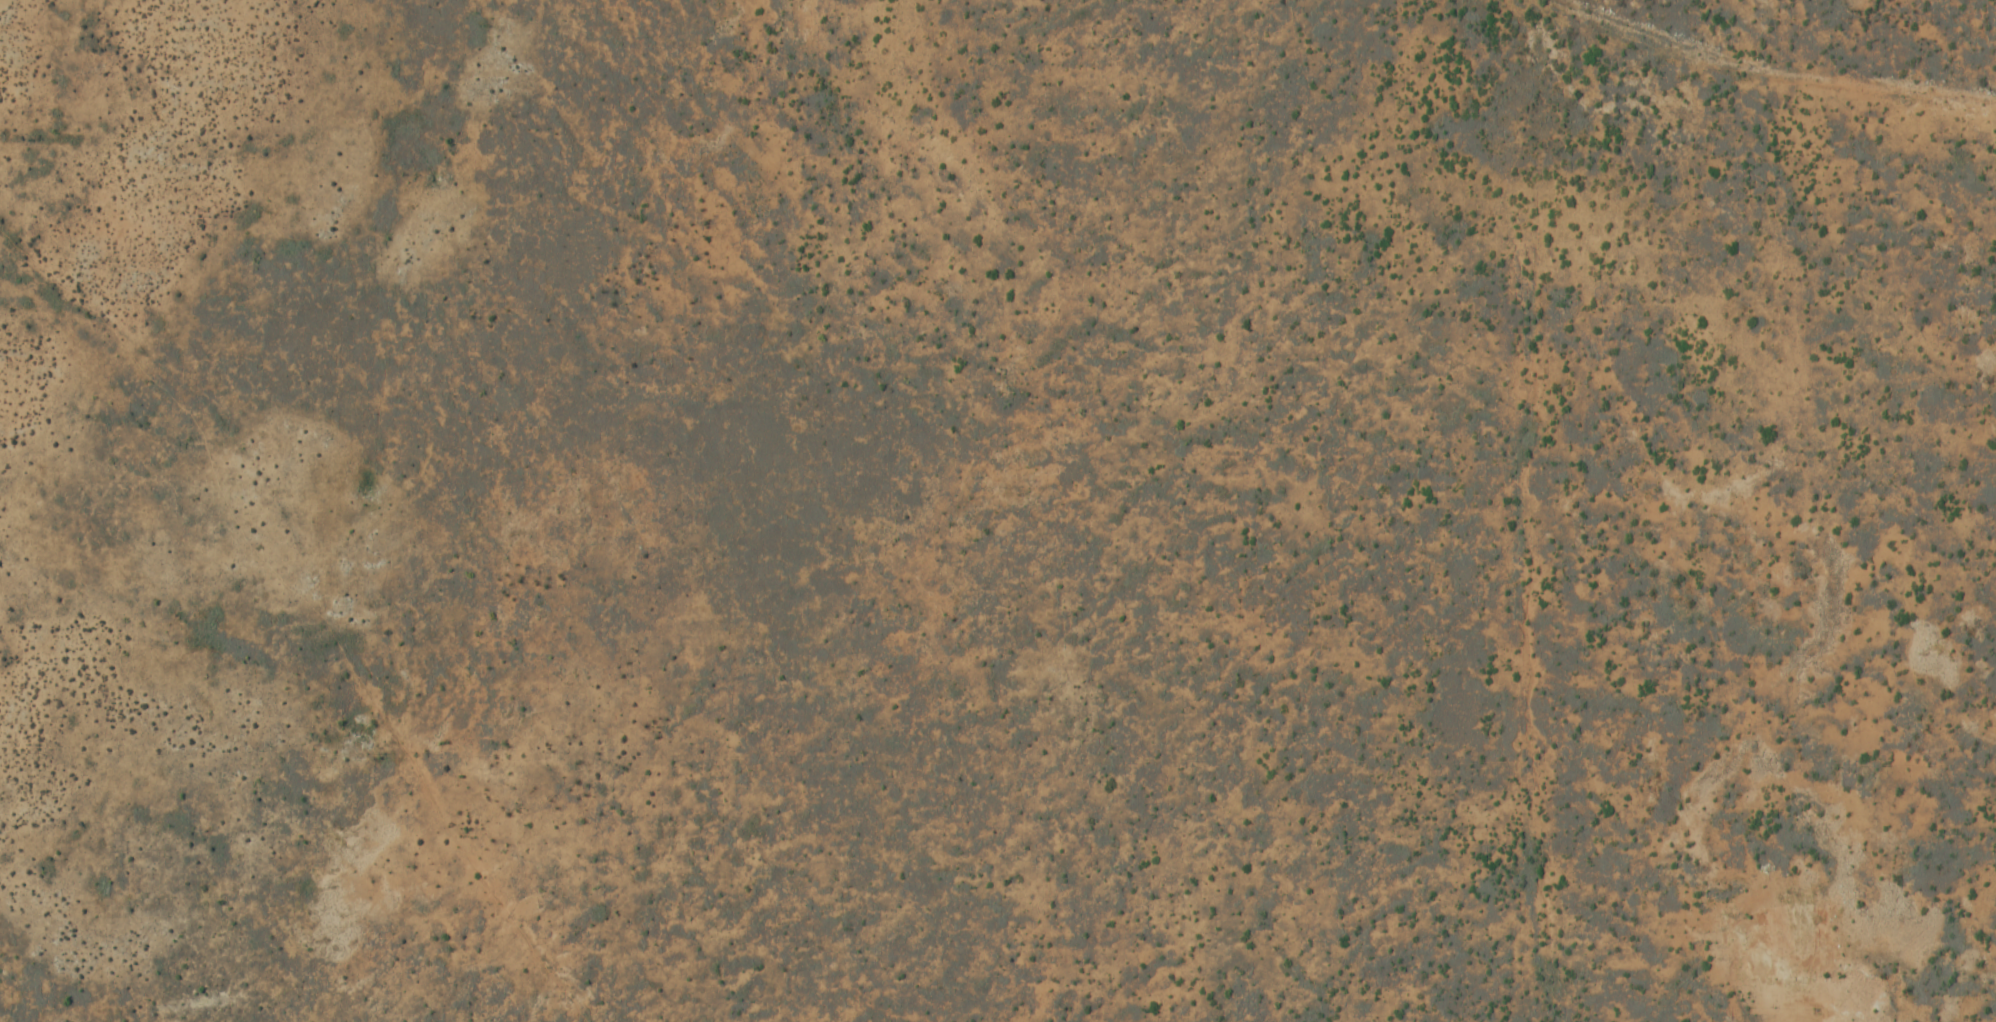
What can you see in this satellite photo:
road: (1738, 945)

